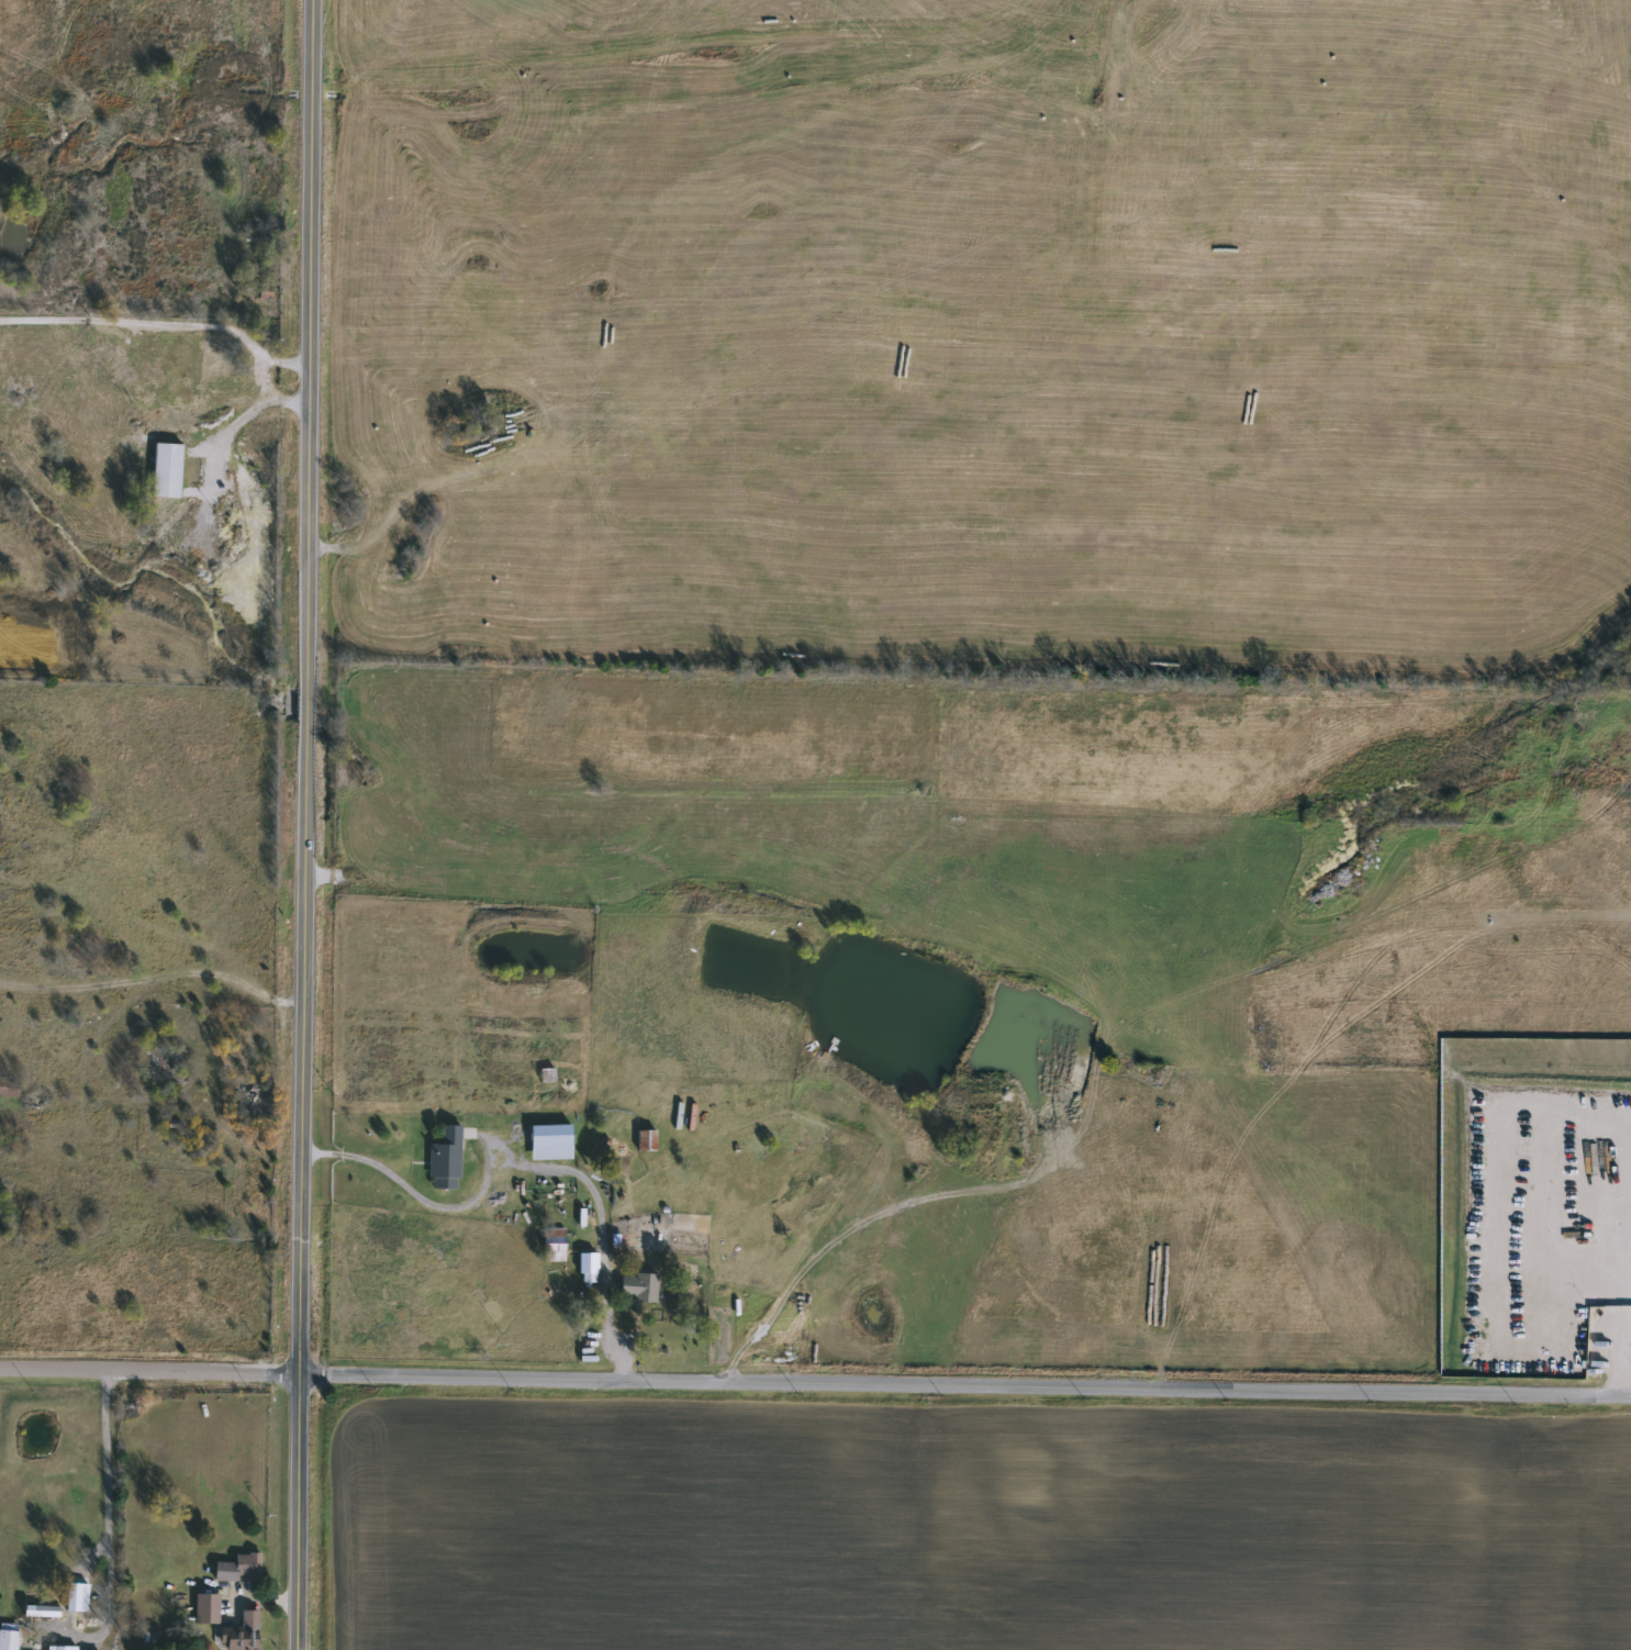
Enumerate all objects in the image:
building: (253, 235)
road: (142, 321)
building: (205, 361)
building: (107, 364)
road: (291, 367)
road: (270, 400)
road: (234, 424)
building: (161, 469)
road: (306, 825)
building: (544, 1075)
building: (8, 1085)
building: (545, 1136)
building: (641, 1140)
building: (440, 1160)
road: (373, 1166)
building: (550, 1246)
road: (603, 1253)
building: (583, 1269)
building: (634, 1287)
road: (149, 1369)
road: (964, 1392)
road: (99, 1475)
building: (236, 1568)
building: (71, 1598)
building: (203, 1609)
building: (236, 1634)
building: (5, 1640)

